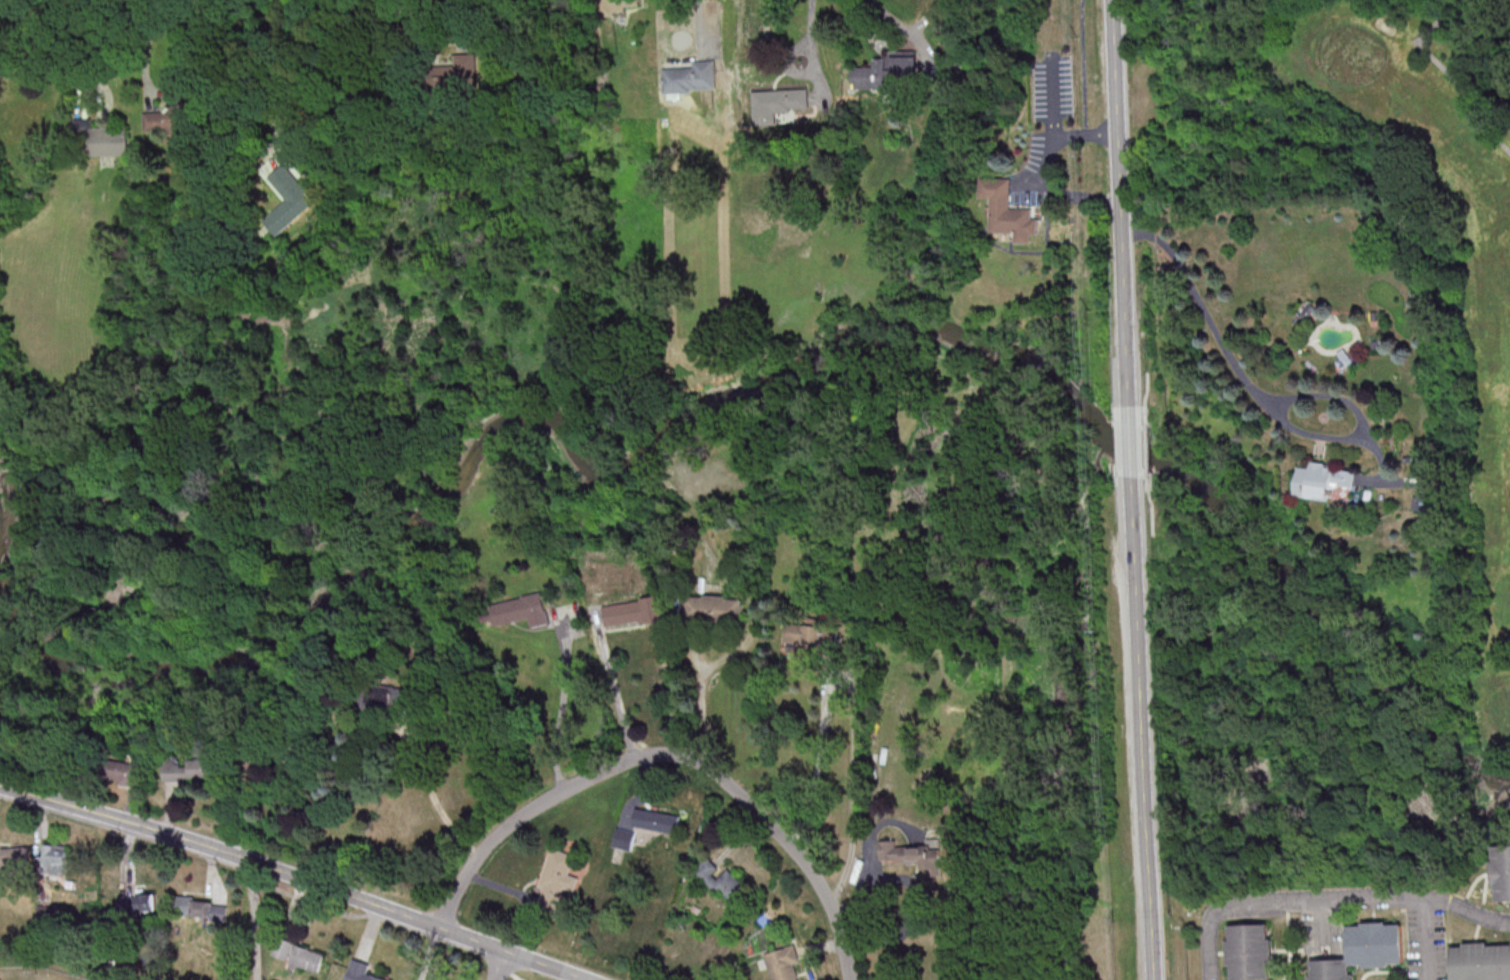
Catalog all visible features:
building: (613, 7)
road: (450, 11)
road: (897, 23)
road: (701, 26)
road: (814, 36)
road: (97, 38)
road: (22, 41)
road: (147, 48)
building: (456, 72)
road: (1446, 72)
building: (884, 73)
building: (691, 78)
building: (780, 103)
building: (165, 120)
road: (295, 120)
building: (21, 133)
building: (100, 139)
road: (1050, 168)
building: (302, 195)
building: (1007, 210)
road: (1121, 213)
road: (1240, 371)
road: (1147, 373)
river: (746, 392)
road: (1147, 448)
road: (1131, 449)
building: (1323, 480)
park: (1474, 499)
road: (1153, 530)
river: (1262, 549)
river: (323, 606)
building: (714, 608)
building: (520, 610)
building: (633, 612)
building: (804, 636)
road: (616, 693)
building: (391, 696)
road: (855, 698)
road: (563, 712)
road: (1142, 725)
road: (674, 752)
building: (190, 769)
building: (120, 771)
road: (437, 804)
building: (656, 820)
building: (624, 839)
building: (916, 854)
building: (14, 857)
building: (55, 859)
building: (1500, 870)
road: (297, 877)
building: (556, 879)
building: (722, 881)
road: (1327, 900)
building: (138, 902)
building: (200, 908)
road: (253, 920)
road: (1318, 924)
parking lot: (1319, 932)
road: (1421, 938)
parking lot: (1422, 943)
building: (1246, 950)
building: (1359, 950)
building: (298, 954)
building: (1478, 961)
building: (782, 963)
road: (502, 965)
building: (360, 971)

